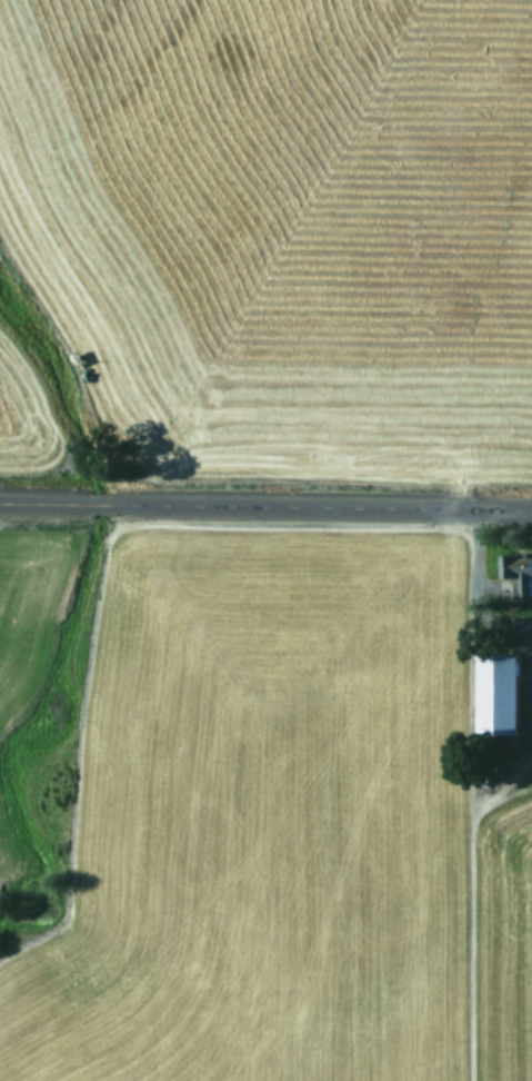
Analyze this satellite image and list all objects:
crop: (267, 237)
road: (265, 506)
building: (518, 569)
building: (496, 692)
crop: (264, 805)

